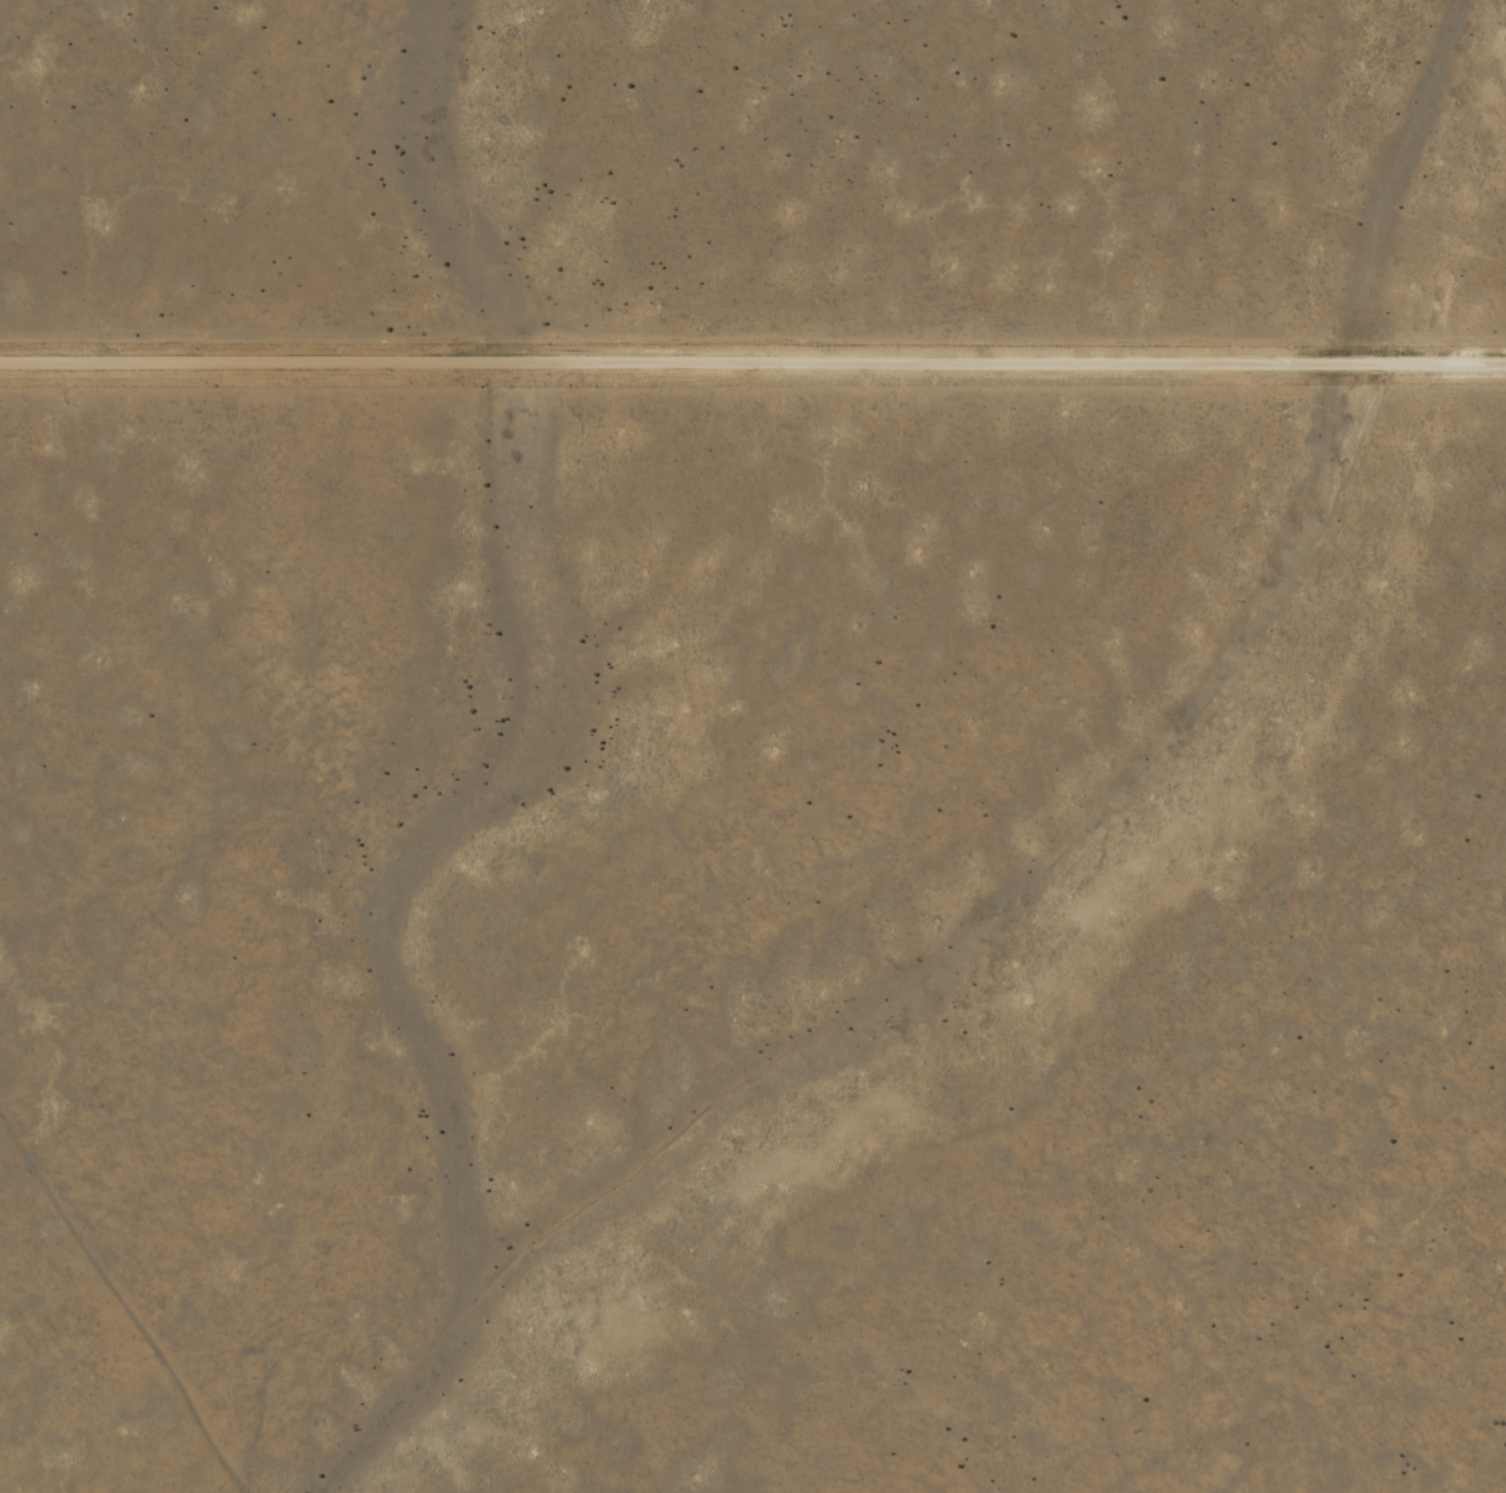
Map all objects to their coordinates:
road: (1339, 179)
road: (753, 362)

